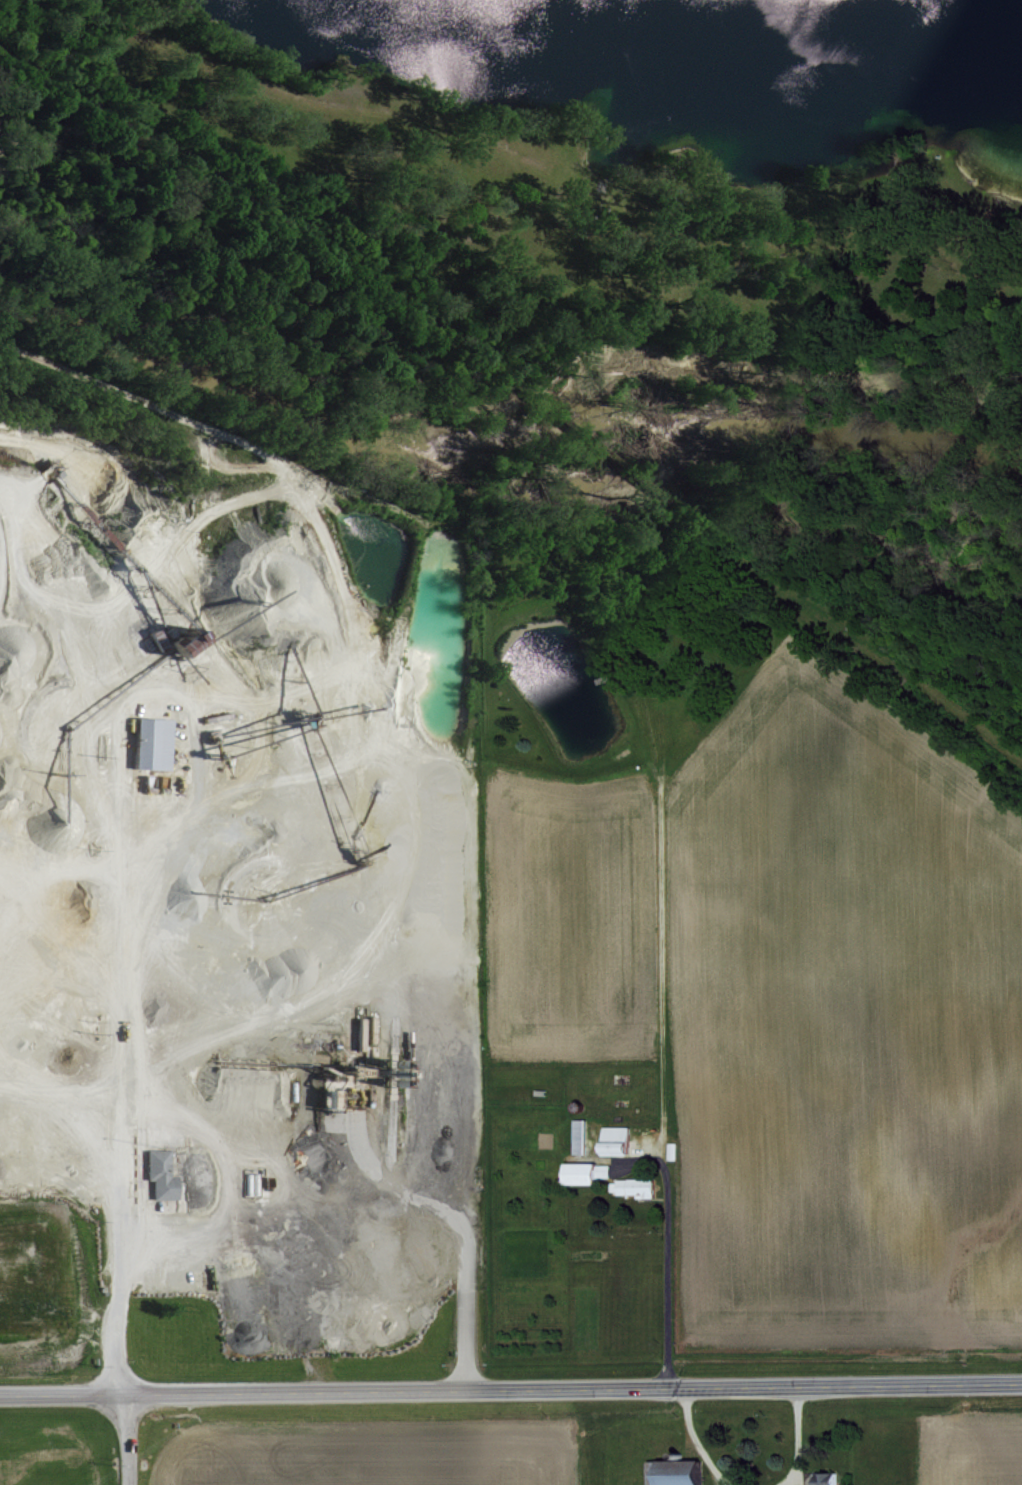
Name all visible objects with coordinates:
road: (161, 8)
road: (351, 106)
road: (56, 656)
building: (146, 742)
road: (660, 962)
building: (576, 1135)
building: (612, 1140)
road: (113, 1150)
building: (600, 1170)
building: (156, 1173)
building: (576, 1173)
road: (374, 1175)
building: (630, 1187)
road: (663, 1224)
road: (511, 1391)
road: (796, 1437)
road: (693, 1441)
building: (674, 1473)
building: (822, 1478)

